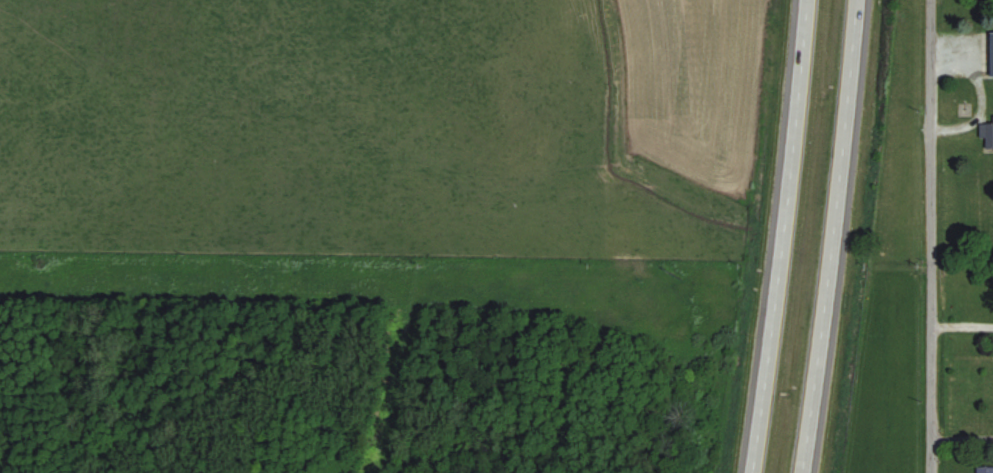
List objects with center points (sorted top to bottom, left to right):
building: (989, 53)
building: (985, 135)
road: (777, 236)
road: (928, 236)
road: (833, 237)
road: (960, 323)
road: (960, 437)
building: (983, 469)

